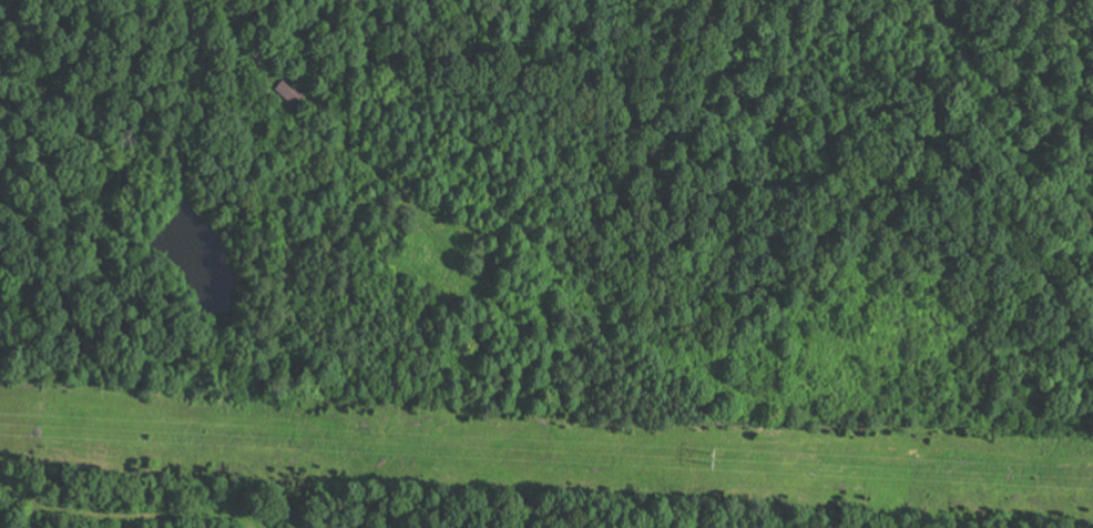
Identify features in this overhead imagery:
building: (292, 91)
power tower: (713, 458)

